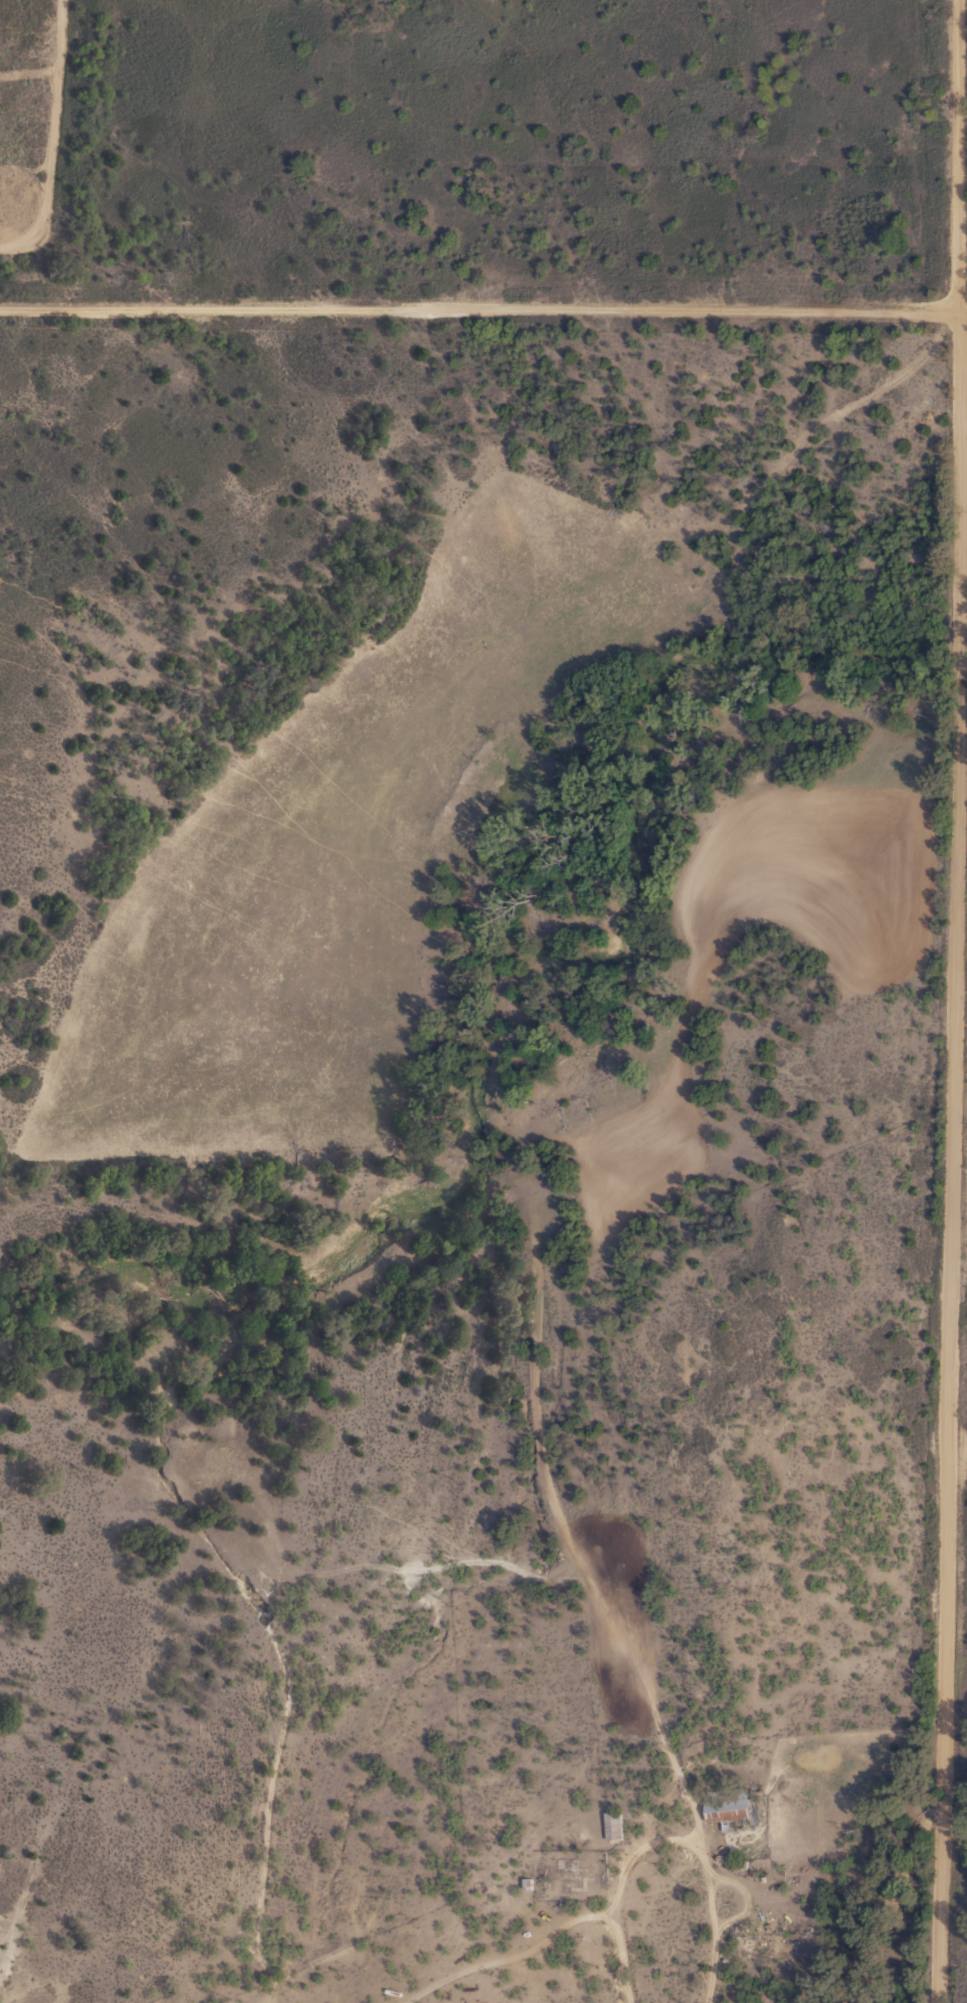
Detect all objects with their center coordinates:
road: (483, 312)
road: (958, 1001)
crop: (484, 1337)
road: (506, 1555)
building: (731, 1809)
building: (612, 1826)
road: (863, 1896)
road: (604, 1902)

